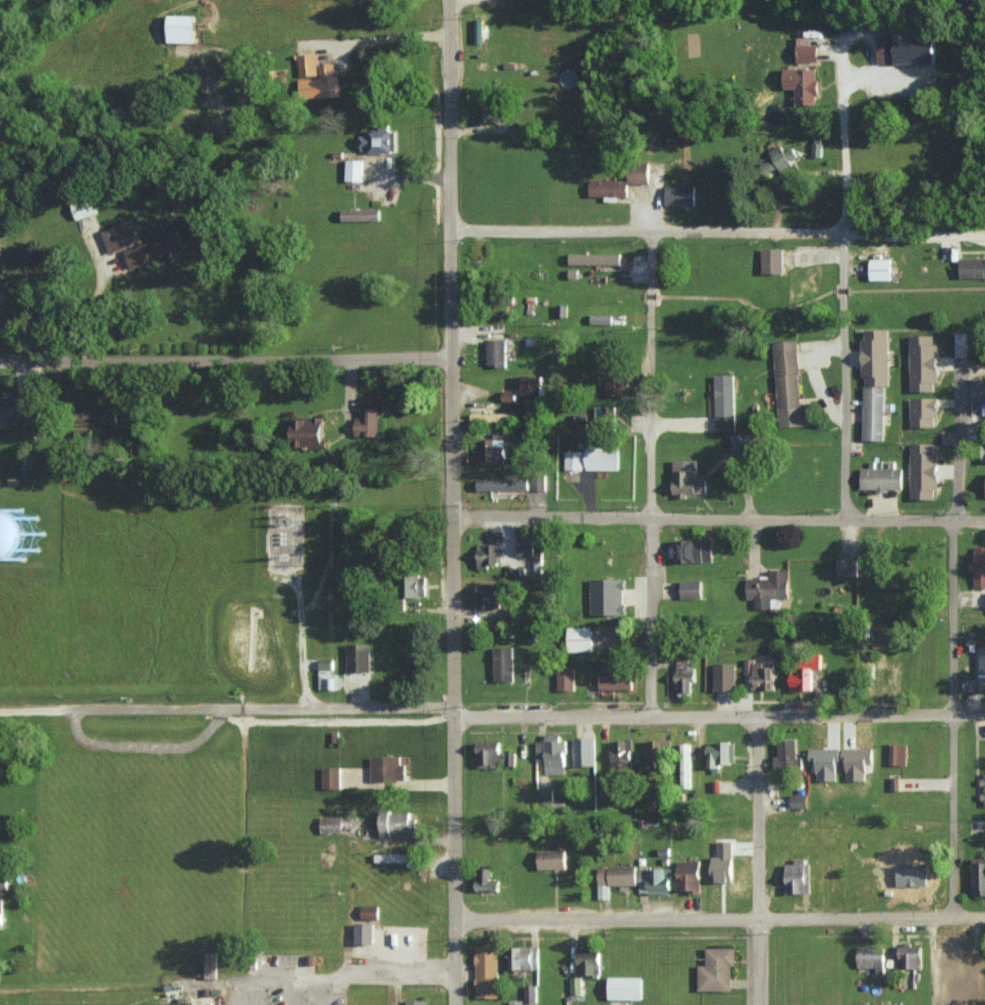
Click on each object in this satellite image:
building: (180, 28)
road: (390, 39)
building: (907, 46)
building: (806, 50)
building: (308, 64)
building: (321, 83)
building: (802, 84)
building: (495, 112)
road: (455, 122)
building: (378, 139)
building: (817, 149)
building: (779, 159)
building: (354, 170)
building: (639, 173)
road: (848, 180)
building: (608, 187)
building: (680, 195)
building: (82, 204)
building: (361, 214)
road: (653, 233)
building: (120, 236)
road: (915, 237)
building: (154, 249)
building: (594, 258)
building: (772, 260)
road: (653, 261)
building: (972, 267)
building: (881, 269)
road: (844, 291)
road: (652, 296)
building: (963, 344)
building: (496, 352)
building: (876, 356)
road: (231, 363)
building: (923, 363)
road: (611, 364)
building: (532, 385)
building: (616, 386)
building: (789, 386)
building: (978, 389)
building: (725, 402)
road: (845, 405)
building: (16, 409)
building: (923, 411)
building: (874, 413)
building: (99, 417)
building: (490, 417)
building: (602, 417)
building: (368, 422)
building: (308, 432)
building: (493, 451)
building: (983, 452)
building: (602, 458)
building: (574, 460)
building: (923, 470)
building: (688, 478)
building: (881, 478)
building: (537, 483)
building: (503, 484)
road: (723, 511)
road: (659, 512)
water tower: (17, 535)
building: (22, 535)
power substation: (285, 536)
building: (529, 547)
building: (692, 550)
building: (488, 555)
building: (847, 567)
building: (978, 567)
building: (409, 585)
building: (768, 588)
building: (691, 589)
building: (488, 595)
building: (607, 596)
road: (457, 624)
building: (579, 639)
road: (956, 655)
building: (358, 657)
building: (503, 664)
building: (983, 666)
building: (804, 673)
building: (760, 674)
building: (327, 676)
building: (617, 676)
building: (883, 676)
building: (724, 677)
building: (566, 679)
building: (685, 679)
road: (2, 709)
road: (493, 717)
building: (584, 751)
building: (622, 752)
building: (552, 753)
building: (488, 754)
building: (656, 754)
building: (720, 754)
building: (898, 754)
building: (787, 755)
building: (824, 763)
building: (856, 763)
building: (685, 765)
building: (387, 769)
building: (331, 777)
building: (983, 788)
building: (544, 796)
building: (799, 801)
building: (395, 822)
building: (331, 824)
building: (393, 857)
building: (552, 859)
building: (723, 862)
road: (758, 862)
building: (689, 875)
building: (797, 876)
building: (978, 876)
building: (615, 878)
building: (487, 880)
building: (3, 881)
building: (654, 881)
building: (370, 912)
building: (1, 913)
road: (721, 918)
building: (364, 933)
building: (909, 957)
building: (524, 958)
building: (872, 958)
building: (946, 958)
building: (589, 960)
building: (717, 969)
building: (486, 971)
road: (330, 978)
parking lot: (284, 982)
building: (575, 985)
building: (626, 988)
road: (325, 991)
road: (290, 992)
road: (249, 993)
building: (530, 993)
building: (940, 1000)
building: (416, 1002)
building: (516, 1002)
building: (185, 1004)

